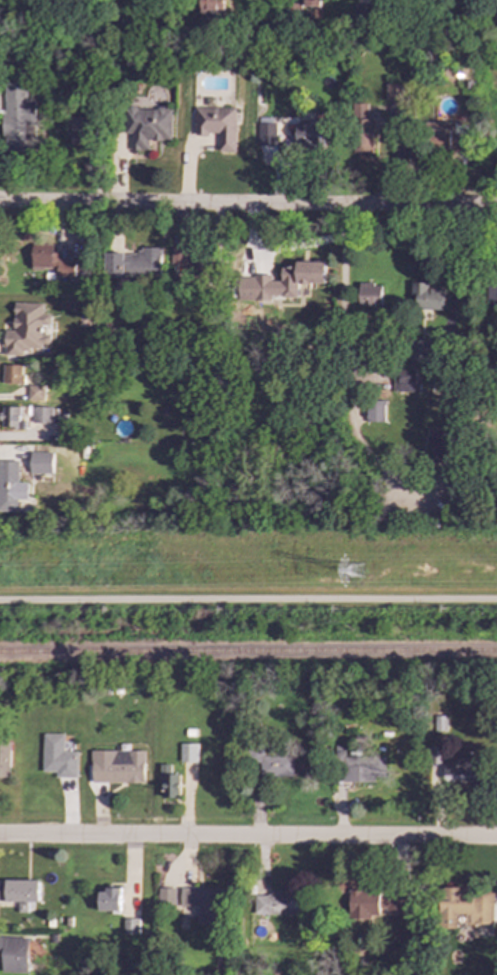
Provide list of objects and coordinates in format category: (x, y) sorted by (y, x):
building: (311, 3)
building: (209, 9)
building: (360, 13)
building: (398, 94)
building: (16, 115)
building: (147, 125)
building: (217, 125)
building: (362, 129)
building: (80, 131)
building: (266, 133)
building: (309, 134)
building: (448, 141)
road: (248, 205)
road: (277, 249)
building: (179, 256)
building: (52, 264)
building: (280, 282)
building: (491, 293)
building: (369, 295)
building: (426, 297)
building: (26, 329)
building: (418, 350)
road: (344, 371)
building: (12, 374)
building: (405, 380)
building: (35, 392)
building: (374, 411)
building: (44, 415)
building: (11, 417)
building: (440, 444)
building: (41, 462)
building: (11, 487)
building: (455, 492)
power tower: (358, 574)
road: (248, 599)
railway: (248, 653)
building: (187, 752)
building: (58, 757)
building: (4, 760)
building: (452, 765)
building: (117, 766)
building: (276, 766)
building: (359, 767)
building: (169, 782)
road: (248, 837)
building: (19, 893)
building: (166, 896)
building: (109, 900)
building: (202, 903)
building: (278, 903)
building: (363, 904)
building: (397, 905)
building: (465, 907)
building: (130, 925)
building: (14, 954)

